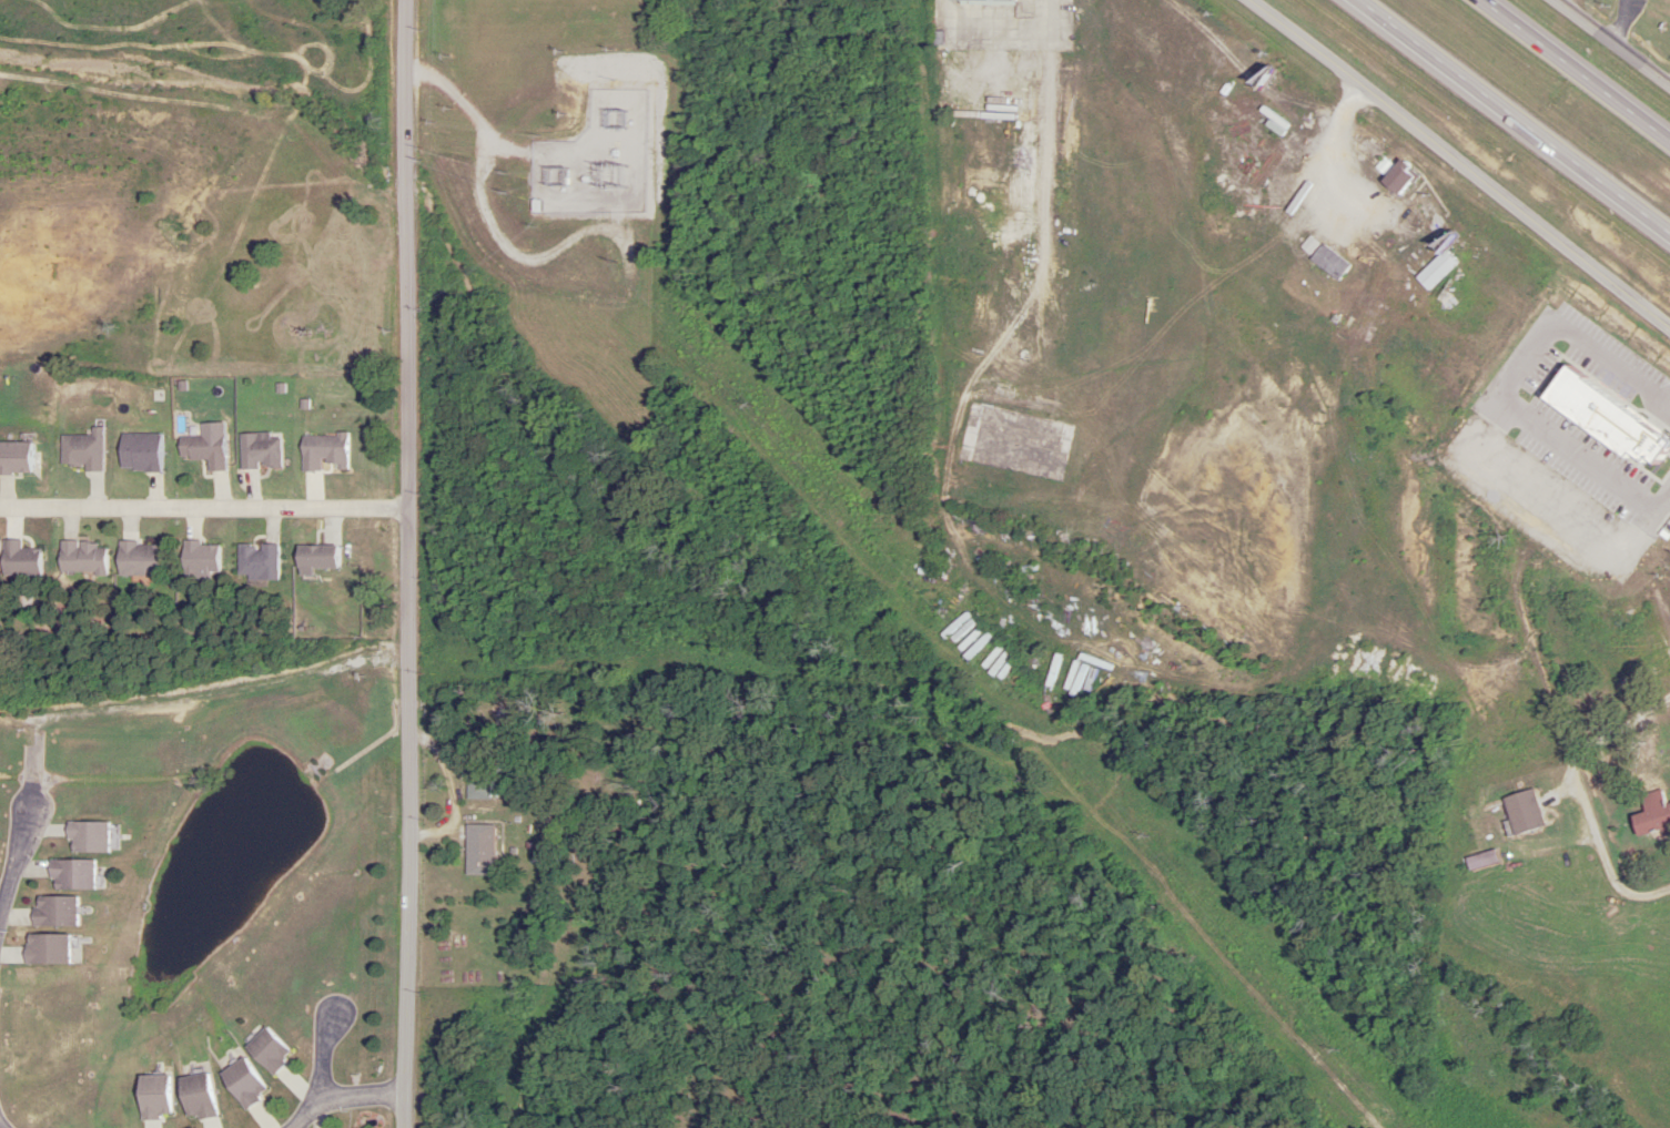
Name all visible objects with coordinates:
building: (981, 0)
road: (1623, 24)
road: (1611, 44)
road: (1575, 73)
road: (468, 119)
road: (1510, 119)
power substation: (593, 159)
road: (1459, 164)
building: (1393, 175)
building: (1434, 270)
building: (80, 451)
building: (202, 451)
building: (256, 453)
road: (204, 510)
building: (199, 558)
building: (314, 559)
building: (18, 560)
building: (255, 561)
road: (408, 563)
building: (1653, 814)
building: (477, 848)
road: (14, 863)
building: (70, 873)
building: (52, 911)
building: (44, 948)
building: (265, 1049)
road: (325, 1060)
building: (241, 1081)
building: (194, 1096)
road: (343, 1099)
road: (9, 1119)

